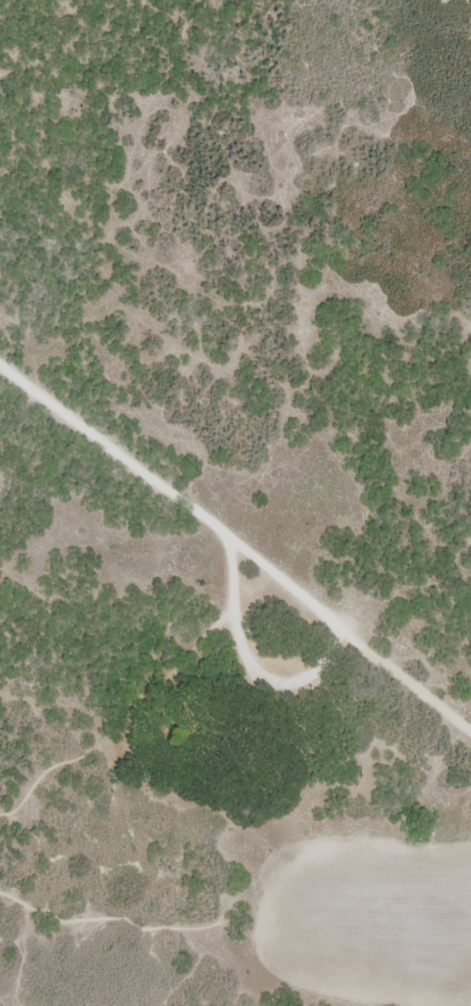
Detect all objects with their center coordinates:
road: (297, 876)

